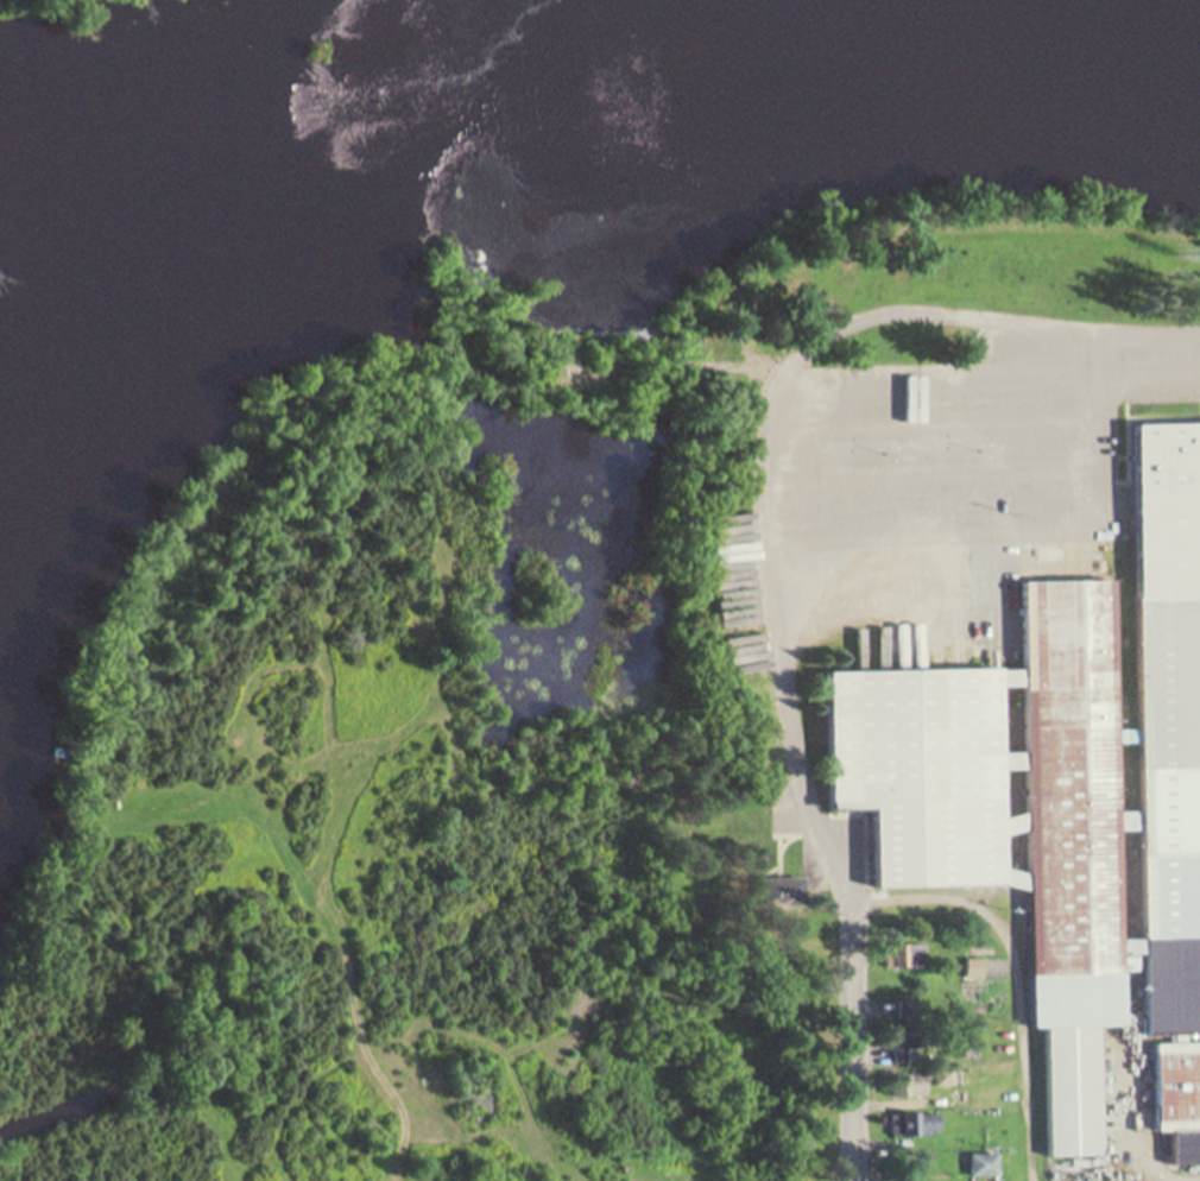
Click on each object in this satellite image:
park: (113, 27)
river: (272, 277)
road: (973, 356)
road: (808, 419)
building: (1067, 794)
building: (787, 892)
road: (841, 1049)
building: (929, 1081)
building: (1181, 1099)
building: (930, 1130)
building: (987, 1166)

